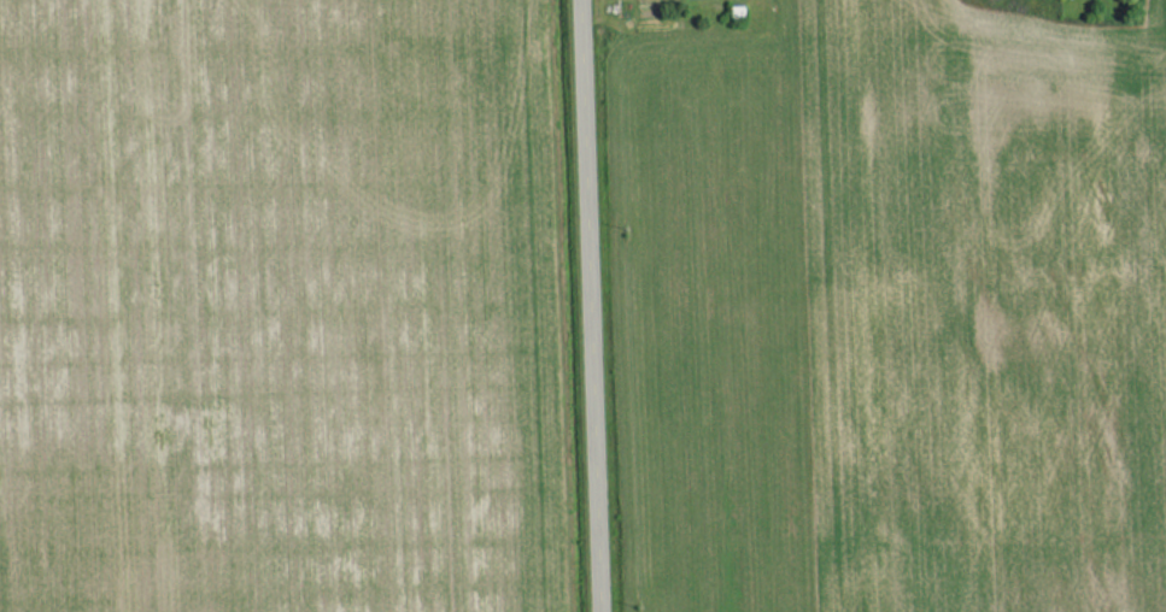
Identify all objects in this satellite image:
road: (594, 306)
crop: (276, 307)
crop: (891, 311)

